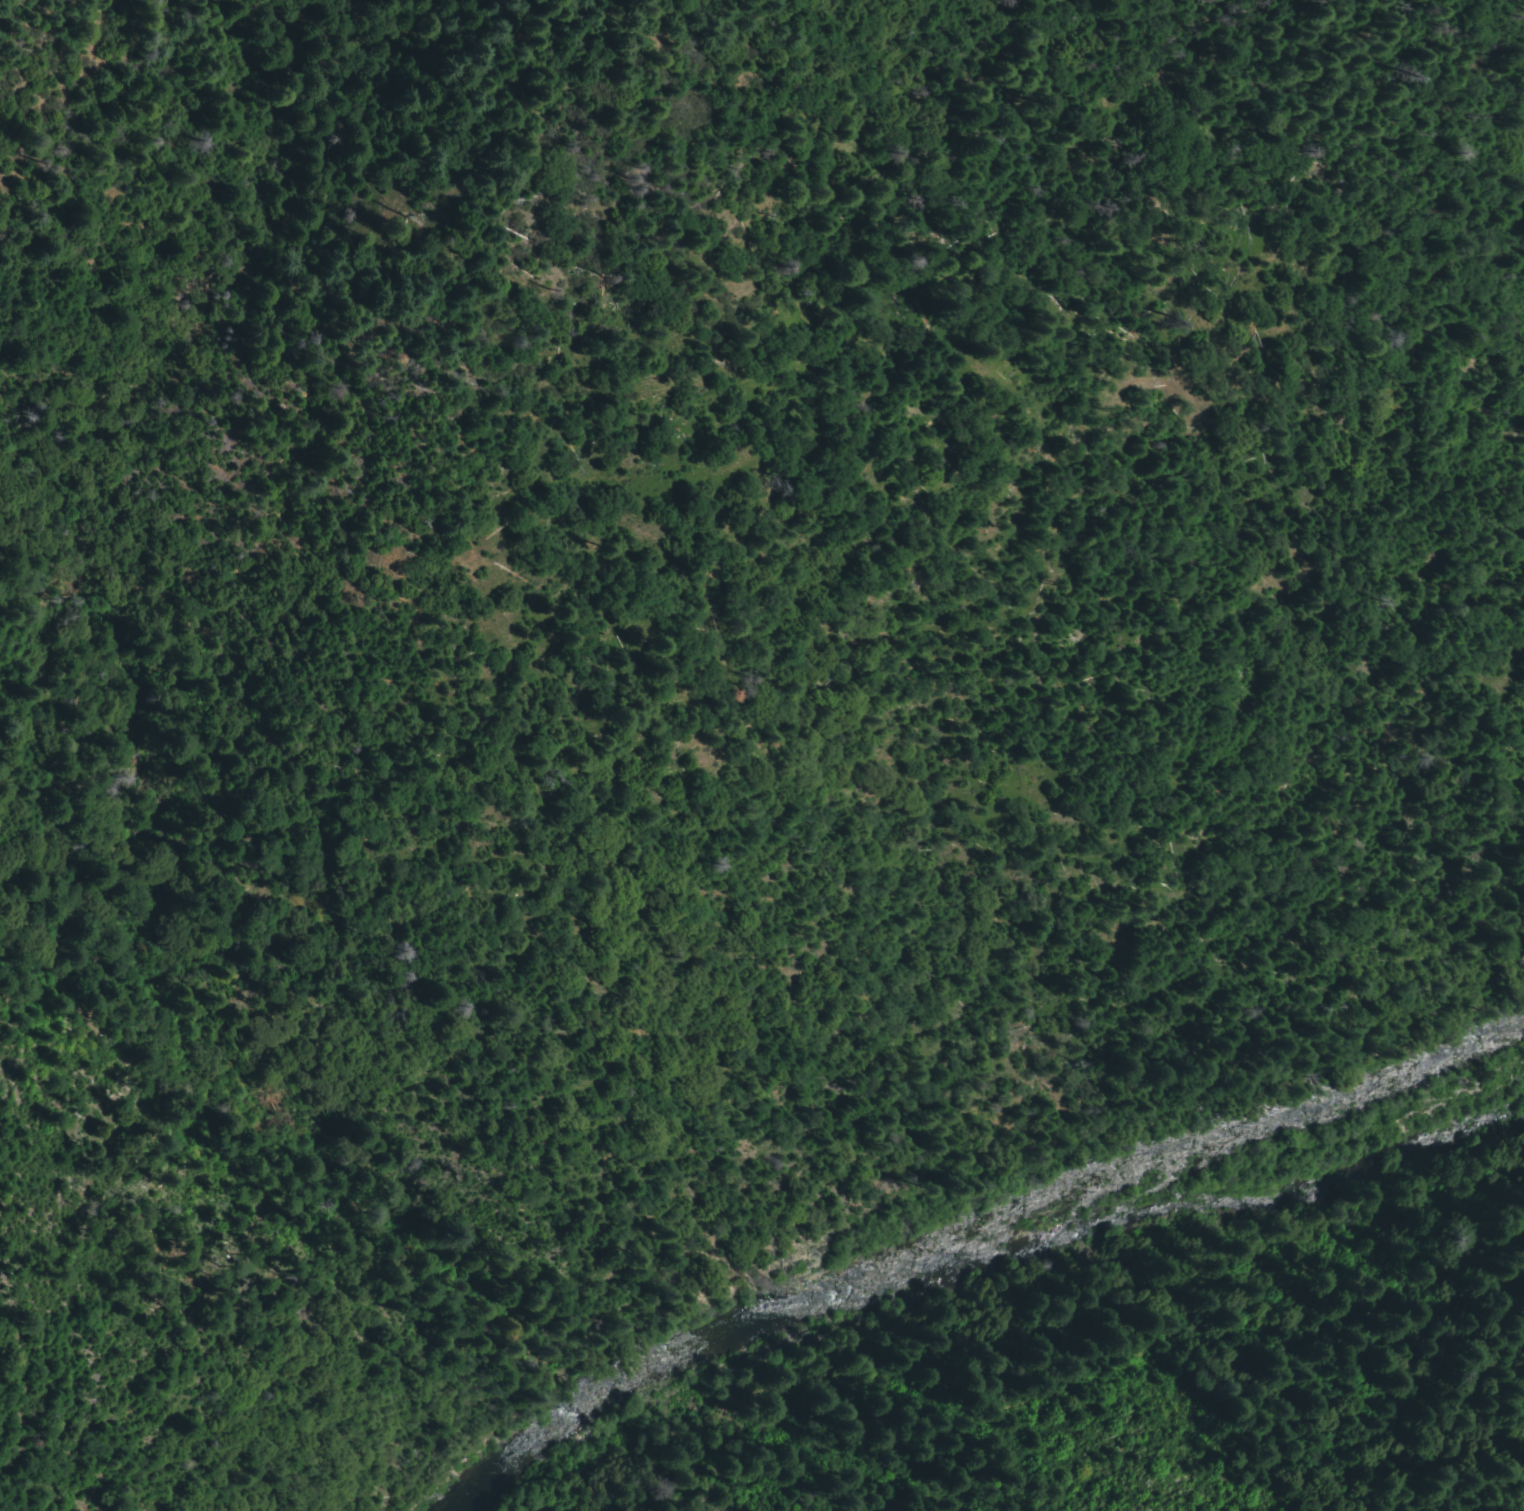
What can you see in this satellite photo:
road: (1459, 1485)

